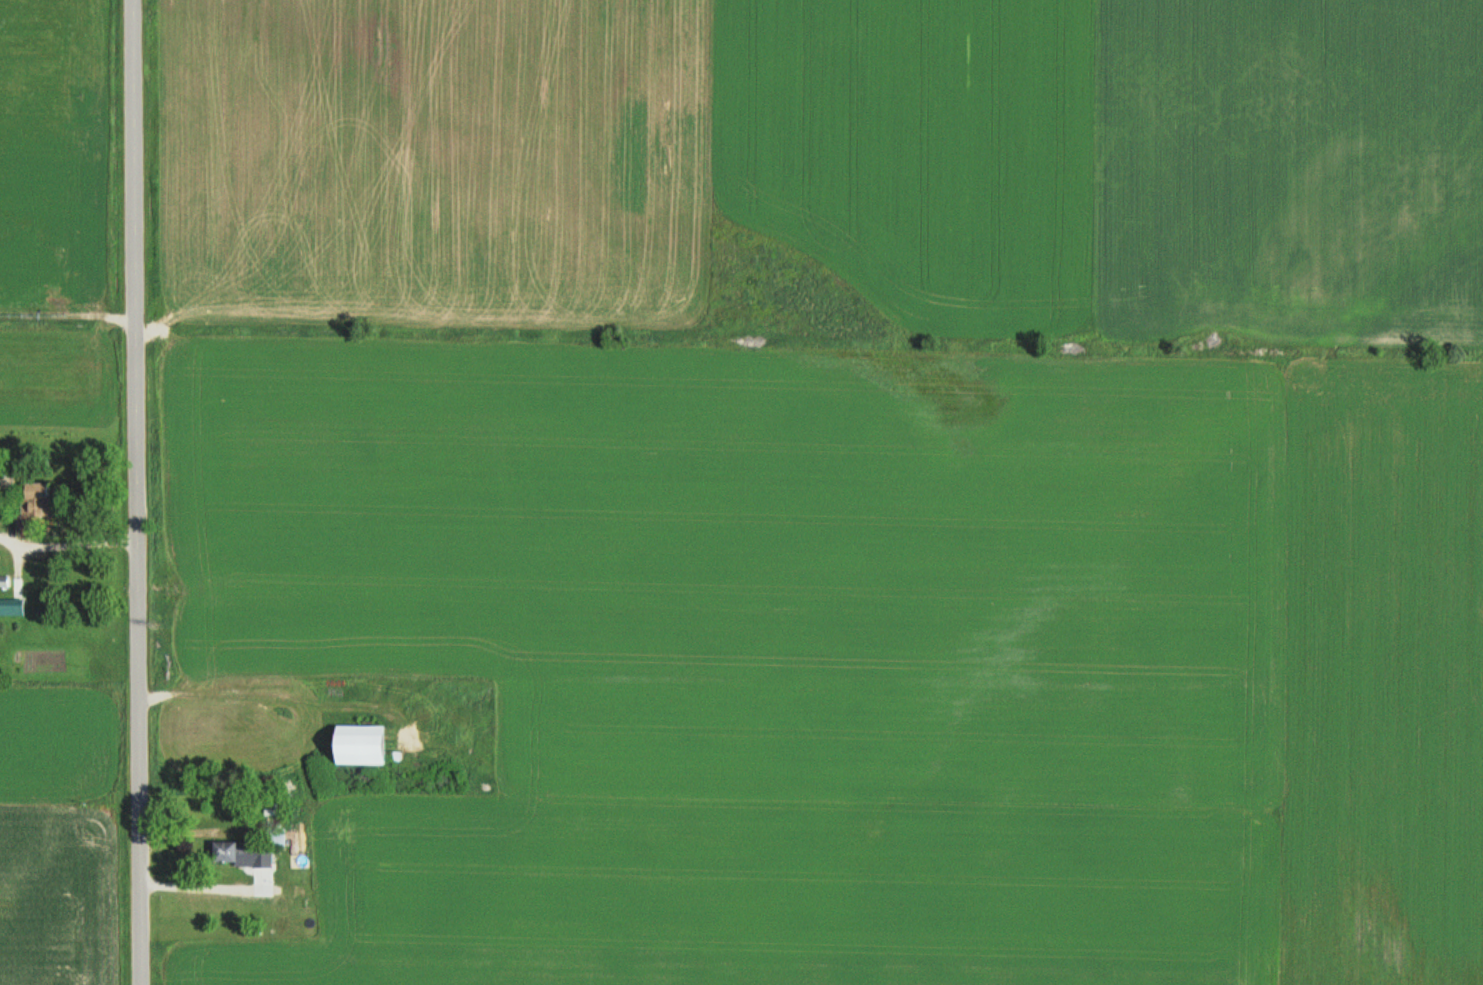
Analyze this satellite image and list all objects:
road: (137, 492)
building: (35, 500)
building: (3, 583)
building: (11, 607)
building: (357, 745)
building: (274, 837)
building: (232, 851)

